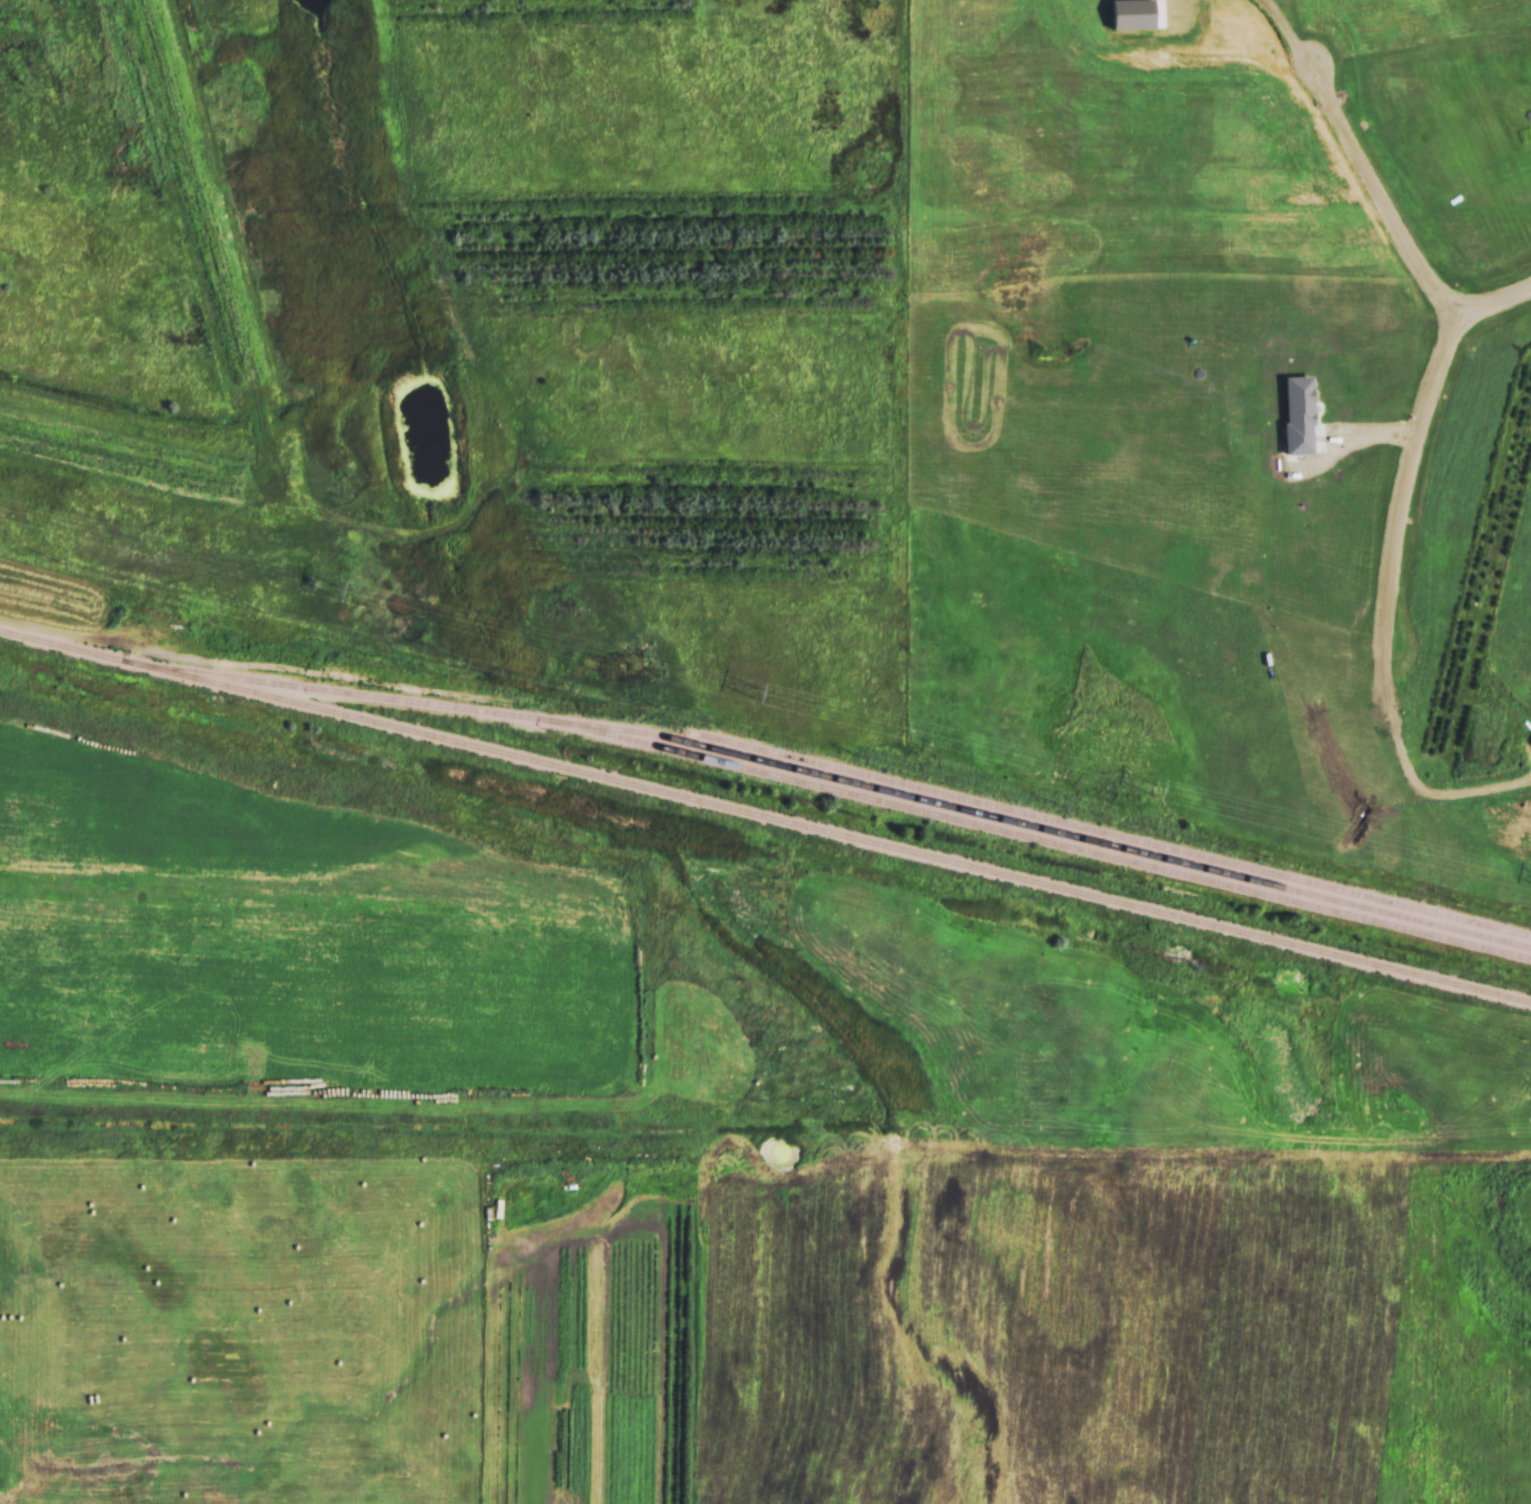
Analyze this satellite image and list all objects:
road: (1288, 32)
road: (1378, 195)
road: (1414, 439)
power tower: (334, 590)
power tower: (753, 693)
power tower: (1153, 791)
railway: (765, 816)

